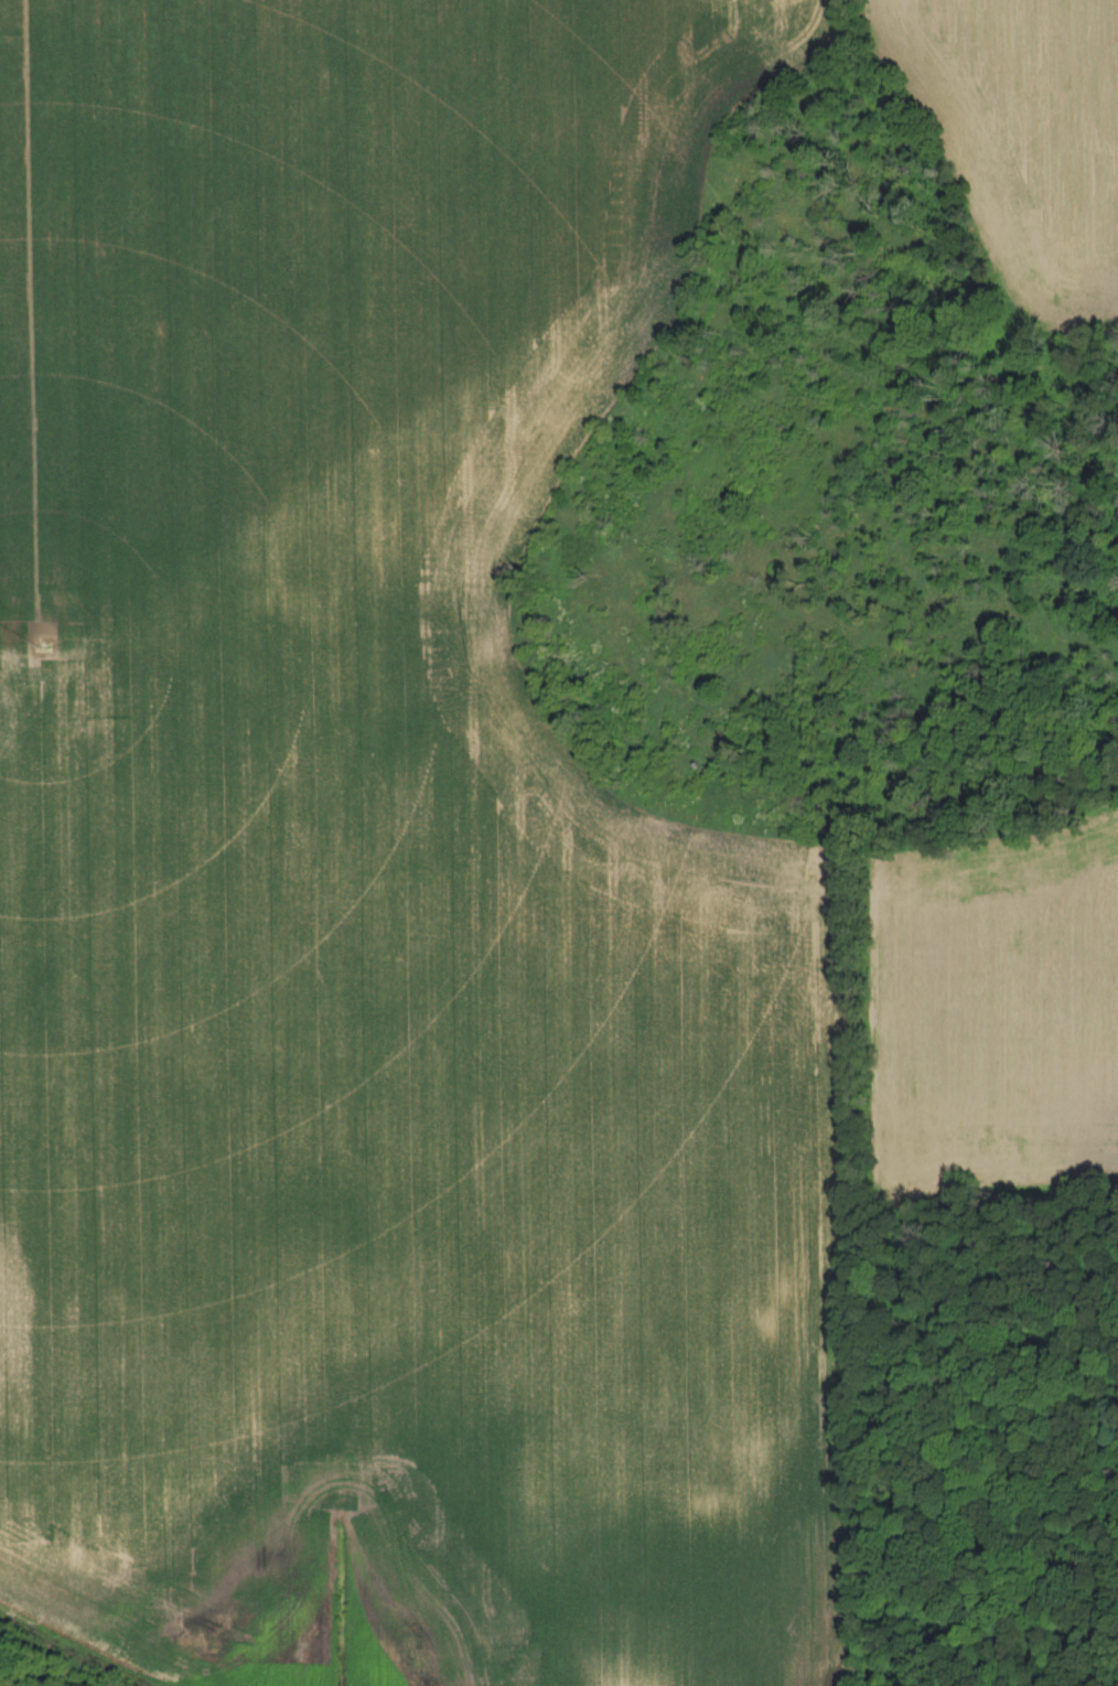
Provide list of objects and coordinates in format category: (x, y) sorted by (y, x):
crop: (1029, 133)
crop: (380, 879)
crop: (999, 1013)

